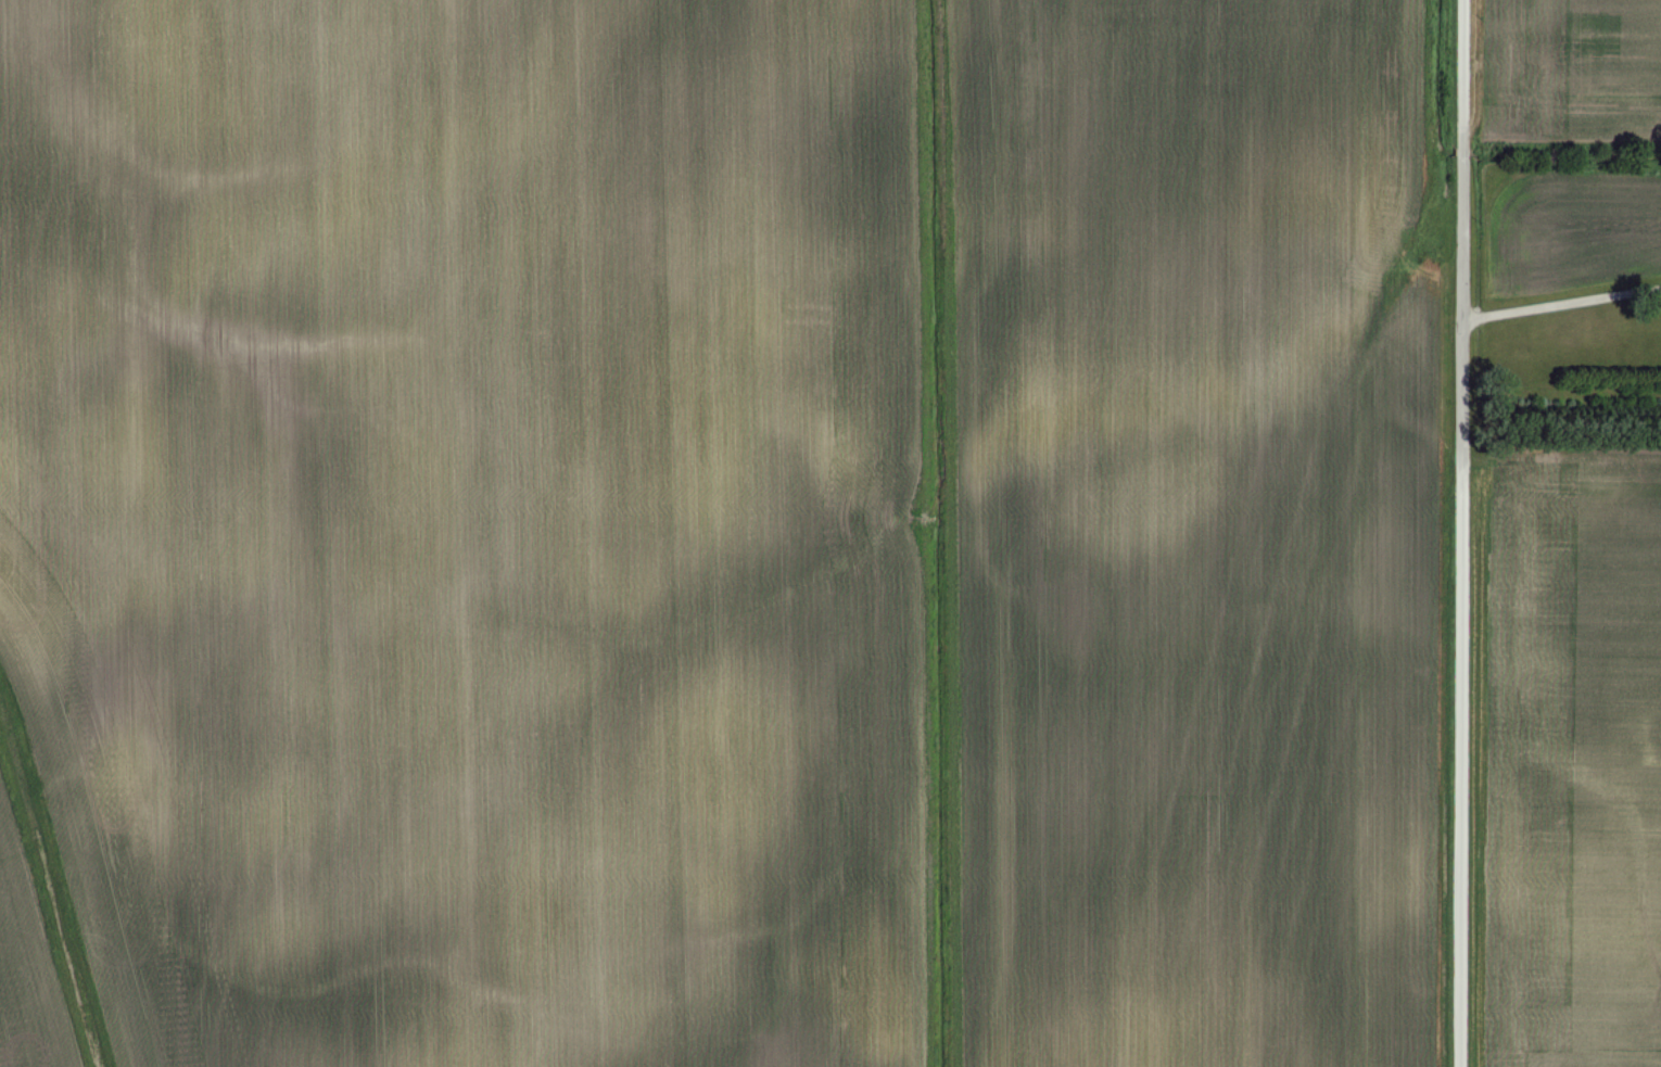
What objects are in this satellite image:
road: (1562, 306)
road: (1461, 533)

